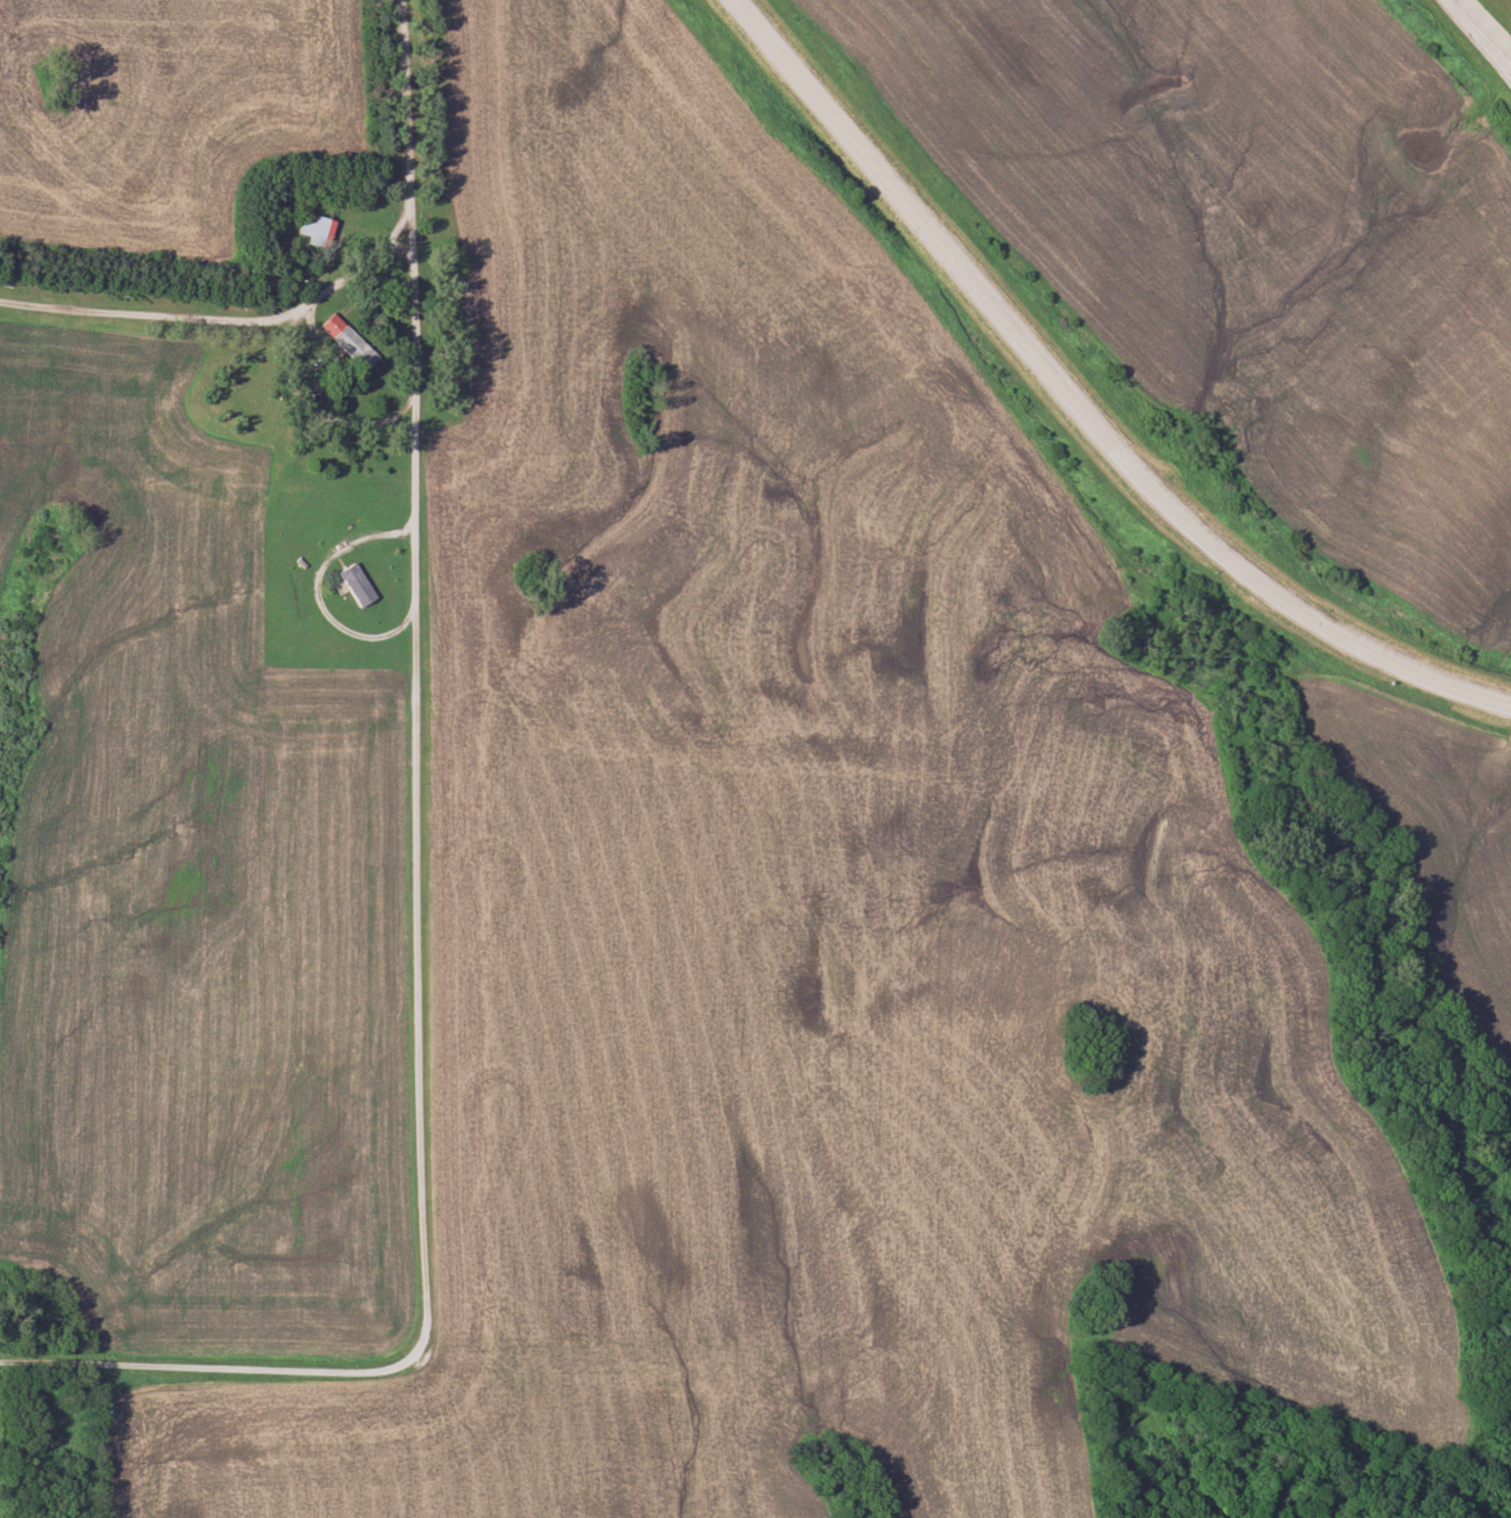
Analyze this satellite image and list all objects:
road: (1484, 27)
building: (308, 229)
road: (324, 295)
building: (351, 349)
road: (1080, 407)
road: (405, 409)
building: (351, 584)
road: (421, 1088)

